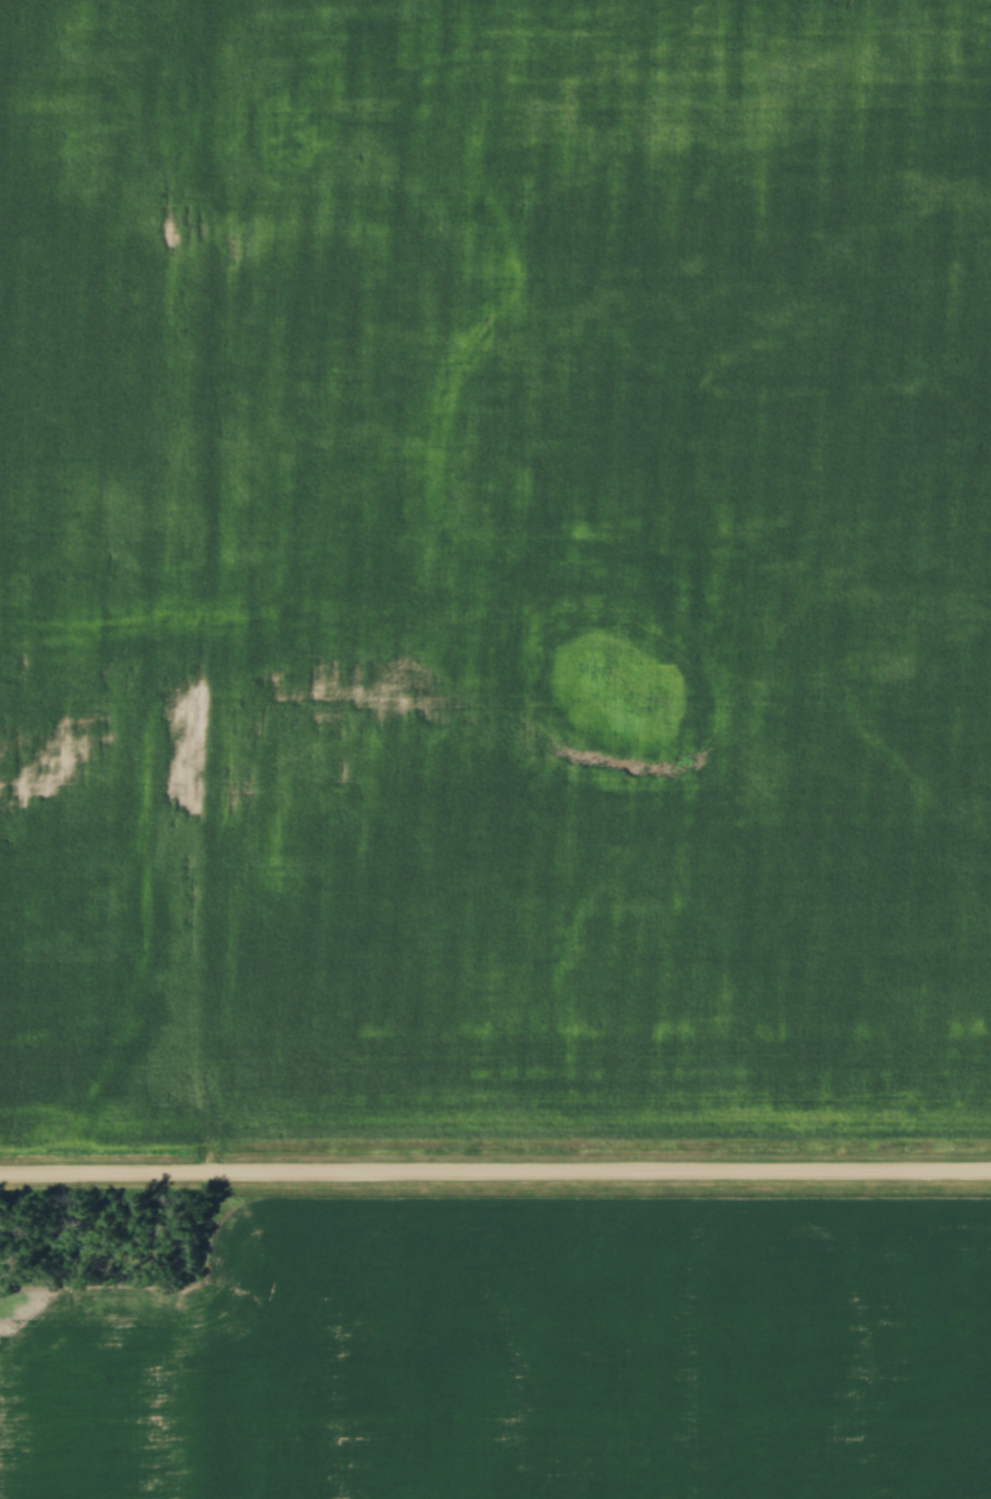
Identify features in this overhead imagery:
road: (495, 1172)

